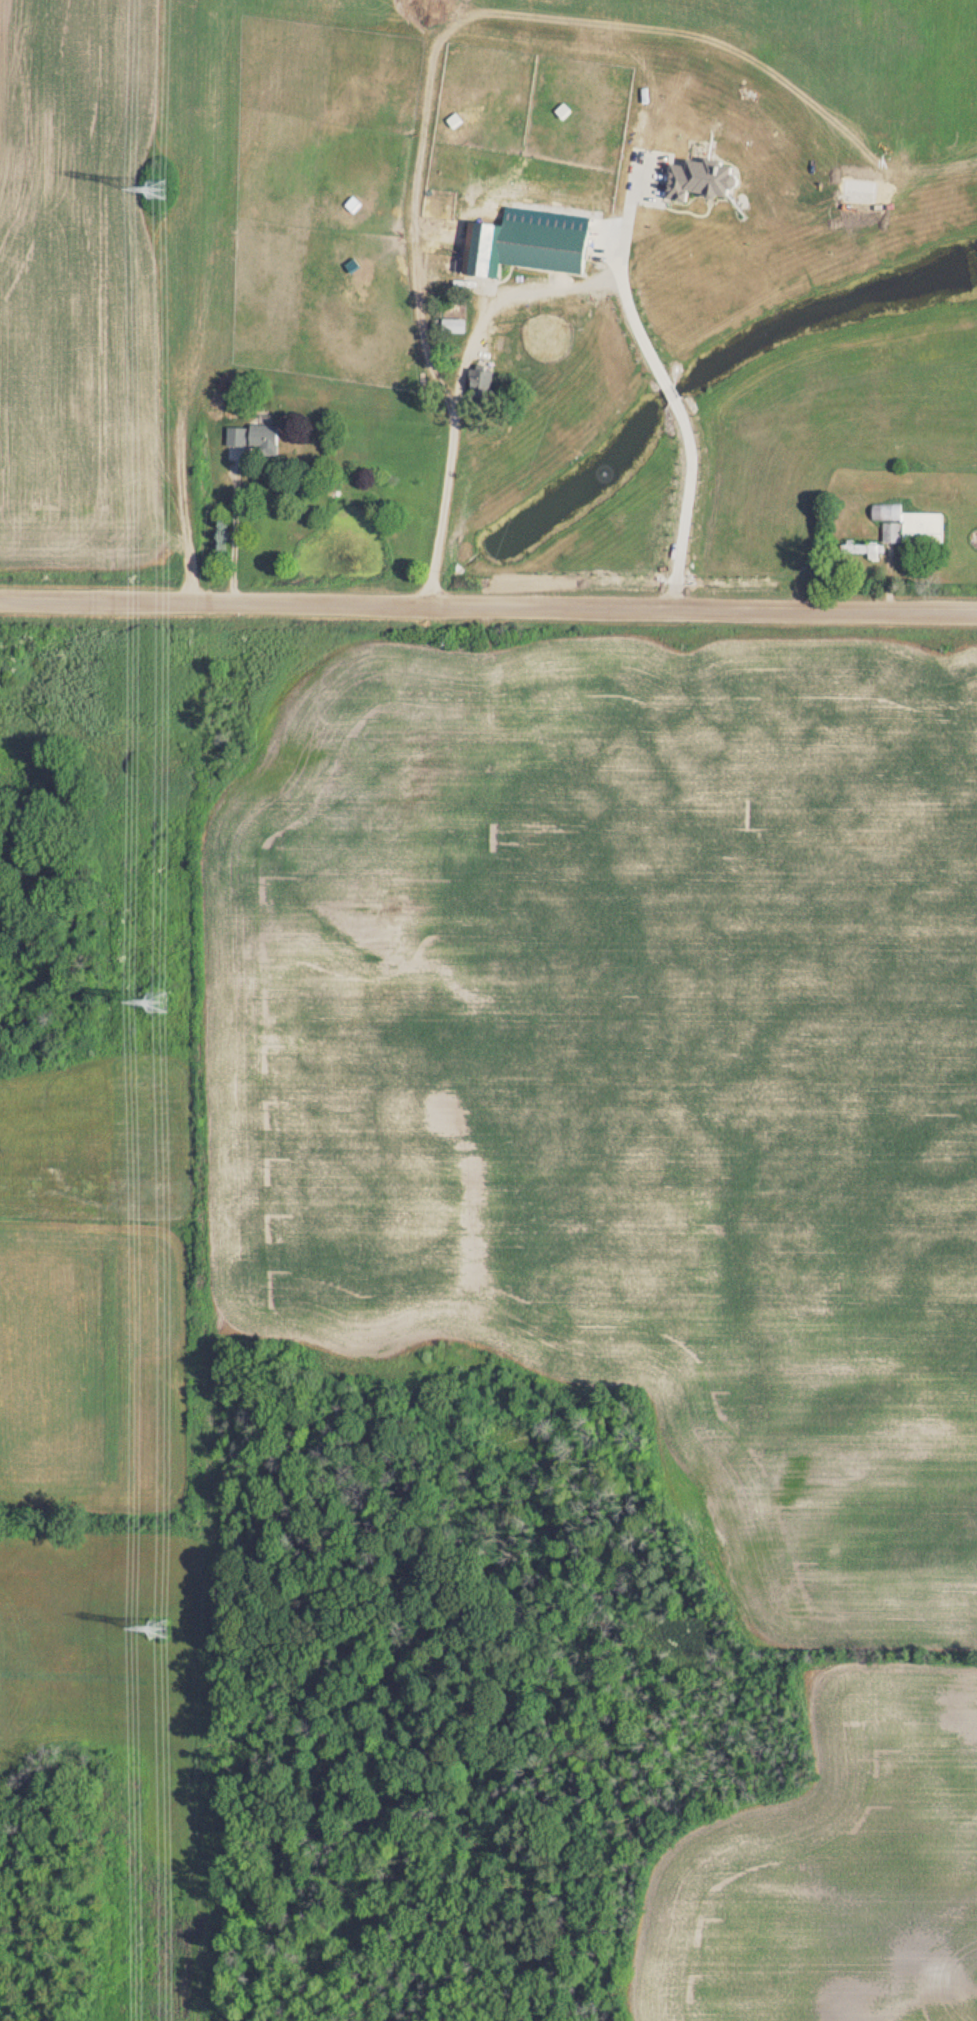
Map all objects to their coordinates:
power tower: (160, 194)
building: (532, 250)
road: (625, 280)
road: (463, 385)
building: (486, 388)
road: (674, 391)
building: (258, 439)
road: (688, 503)
road: (236, 531)
building: (907, 537)
road: (488, 604)
power tower: (160, 1004)
power tower: (163, 1630)

